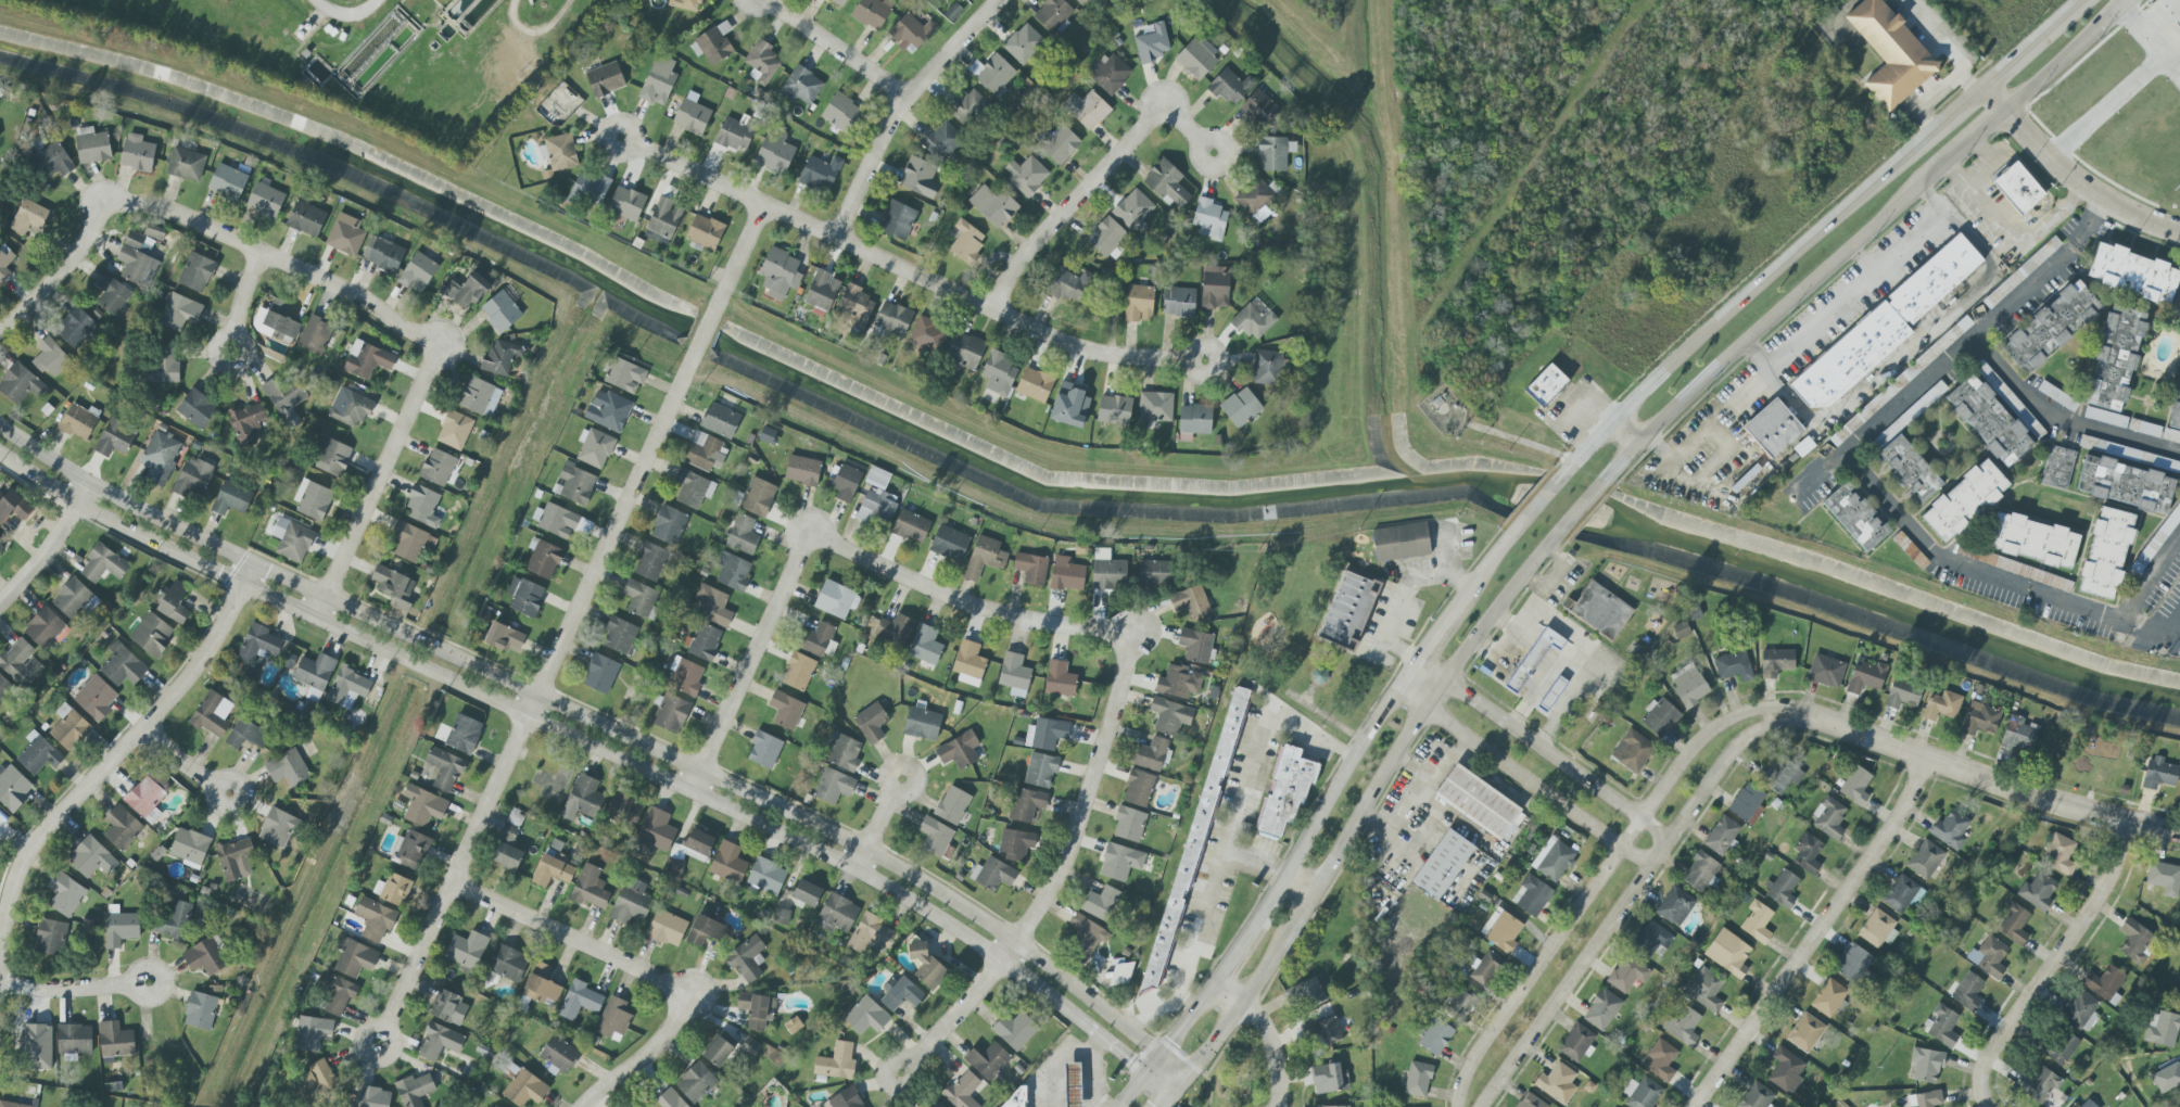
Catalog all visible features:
building: (963, 0)
building: (1079, 1)
building: (838, 2)
building: (685, 4)
building: (872, 12)
building: (1052, 14)
road: (2159, 16)
road: (1839, 21)
building: (2178, 24)
gas station: (2178, 24)
road: (353, 27)
building: (912, 31)
road: (1943, 42)
building: (714, 43)
building: (1023, 43)
building: (1153, 43)
road: (840, 48)
building: (1890, 52)
road: (2069, 55)
building: (1197, 58)
building: (762, 63)
road: (2004, 64)
road: (2169, 65)
road: (2176, 65)
building: (992, 73)
building: (1110, 73)
building: (605, 79)
building: (659, 81)
road: (2126, 85)
building: (801, 86)
building: (1230, 87)
road: (1997, 96)
road: (907, 107)
building: (968, 107)
building: (1258, 109)
building: (1087, 110)
building: (841, 113)
building: (692, 114)
building: (736, 133)
road: (1976, 135)
building: (942, 141)
building: (1060, 144)
building: (92, 147)
building: (559, 152)
building: (774, 152)
building: (137, 153)
building: (1272, 154)
building: (52, 161)
building: (186, 164)
building: (820, 173)
road: (1977, 173)
building: (1026, 175)
building: (920, 177)
building: (228, 182)
building: (1166, 183)
road: (2084, 183)
building: (590, 188)
road: (1099, 189)
building: (2018, 190)
building: (1254, 196)
building: (265, 201)
building: (626, 203)
building: (993, 205)
building: (1133, 211)
building: (28, 217)
building: (664, 218)
building: (306, 219)
building: (1209, 219)
building: (898, 220)
building: (705, 231)
building: (345, 234)
building: (1105, 237)
road: (2025, 240)
building: (966, 242)
road: (745, 252)
building: (382, 254)
building: (136, 260)
road: (1861, 260)
building: (4, 262)
road: (69, 263)
road: (294, 264)
road: (911, 268)
building: (197, 272)
building: (418, 272)
building: (780, 272)
building: (2021, 272)
building: (2133, 273)
building: (1072, 285)
building: (1215, 288)
building: (466, 290)
road: (1855, 290)
building: (822, 291)
building: (112, 294)
building: (1178, 302)
building: (1139, 303)
building: (855, 304)
road: (244, 308)
building: (180, 311)
building: (500, 311)
building: (892, 318)
building: (1252, 321)
building: (276, 326)
road: (707, 326)
building: (75, 327)
building: (1884, 327)
building: (2051, 327)
building: (928, 334)
building: (315, 335)
road: (1689, 346)
road: (1909, 347)
building: (965, 351)
road: (1997, 355)
building: (50, 357)
building: (500, 357)
building: (2116, 358)
building: (367, 359)
building: (163, 365)
building: (1267, 368)
building: (999, 372)
building: (624, 376)
building: (1904, 378)
building: (20, 384)
building: (1035, 384)
building: (1546, 385)
building: (284, 395)
building: (2057, 396)
building: (479, 397)
building: (2010, 400)
road: (1678, 403)
building: (1070, 405)
building: (1155, 406)
building: (1240, 407)
building: (351, 408)
building: (197, 409)
building: (608, 410)
building: (1114, 410)
building: (2176, 411)
building: (2105, 417)
building: (1194, 419)
building: (720, 420)
building: (1989, 420)
building: (78, 422)
building: (248, 422)
building: (1773, 428)
building: (2149, 429)
building: (455, 430)
road: (1624, 432)
building: (768, 435)
building: (115, 437)
building: (2170, 437)
building: (594, 448)
building: (705, 453)
building: (1909, 453)
building: (332, 457)
building: (160, 458)
building: (439, 467)
building: (2057, 467)
building: (802, 470)
building: (192, 478)
building: (877, 478)
road: (382, 481)
building: (846, 483)
building: (574, 484)
building: (2125, 484)
building: (758, 497)
building: (231, 498)
building: (313, 499)
building: (1964, 500)
building: (422, 506)
building: (876, 508)
building: (1855, 518)
building: (557, 521)
building: (669, 525)
building: (911, 526)
road: (1917, 532)
building: (743, 535)
building: (292, 539)
building: (2033, 540)
building: (410, 542)
building: (1400, 542)
road: (49, 544)
building: (949, 544)
building: (1, 548)
building: (1910, 550)
building: (2106, 552)
building: (984, 557)
building: (544, 560)
building: (650, 562)
building: (103, 563)
building: (1030, 568)
building: (1107, 571)
building: (2023, 571)
building: (733, 572)
building: (1154, 573)
building: (1066, 574)
road: (2150, 575)
building: (394, 587)
road: (971, 595)
road: (1403, 595)
building: (524, 596)
building: (72, 597)
building: (836, 599)
building: (641, 600)
building: (174, 602)
building: (1190, 602)
building: (711, 606)
building: (1600, 610)
building: (1347, 611)
road: (2170, 615)
road: (1437, 627)
building: (46, 628)
building: (893, 629)
building: (1681, 629)
building: (151, 634)
building: (620, 635)
building: (504, 637)
building: (817, 640)
building: (705, 641)
building: (257, 642)
building: (925, 645)
building: (1195, 646)
building: (1534, 659)
road: (752, 661)
building: (20, 662)
building: (1776, 662)
building: (968, 663)
building: (123, 665)
building: (1734, 666)
building: (798, 671)
building: (1825, 671)
building: (600, 673)
building: (315, 674)
building: (1014, 674)
road: (1425, 675)
building: (1318, 676)
building: (686, 677)
building: (1865, 677)
building: (1060, 678)
road: (545, 682)
building: (1178, 682)
building: (4, 687)
building: (1689, 687)
road: (1416, 689)
road: (1434, 692)
building: (1551, 694)
building: (1902, 694)
building: (96, 698)
road: (1478, 701)
building: (1941, 705)
building: (785, 710)
building: (671, 713)
building: (210, 715)
building: (1169, 716)
building: (1660, 717)
building: (1980, 718)
road: (591, 722)
building: (871, 722)
building: (922, 724)
road: (1712, 727)
building: (69, 728)
building: (464, 734)
building: (1045, 734)
building: (246, 735)
building: (2018, 735)
road: (584, 743)
building: (764, 750)
building: (842, 751)
building: (958, 751)
building: (1632, 751)
building: (38, 754)
building: (1152, 754)
road: (1728, 754)
road: (197, 768)
building: (287, 768)
building: (444, 768)
road: (112, 769)
building: (1040, 769)
road: (1576, 773)
building: (2159, 773)
building: (1782, 775)
road: (1523, 777)
building: (159, 780)
road: (1999, 782)
building: (834, 786)
building: (1855, 786)
building: (13, 787)
road: (1417, 787)
building: (1138, 788)
building: (1285, 791)
building: (2179, 796)
road: (1329, 798)
building: (145, 799)
building: (582, 799)
road: (1368, 799)
building: (1478, 802)
building: (1747, 802)
building: (1027, 804)
building: (952, 805)
building: (423, 806)
building: (621, 809)
building: (1829, 817)
building: (1129, 824)
road: (879, 826)
building: (122, 828)
building: (277, 828)
building: (656, 829)
road: (1655, 829)
building: (1950, 829)
road: (1230, 835)
building: (1722, 836)
building: (935, 837)
building: (1015, 843)
building: (508, 845)
building: (694, 847)
building: (189, 848)
building: (410, 850)
building: (1807, 853)
building: (2061, 854)
building: (88, 856)
road: (1636, 857)
building: (235, 858)
building: (1925, 858)
building: (1552, 860)
building: (727, 862)
building: (1120, 862)
building: (1443, 863)
building: (552, 869)
road: (1271, 870)
building: (1700, 871)
road: (1059, 874)
building: (992, 875)
building: (766, 876)
building: (2164, 878)
building: (590, 888)
building: (395, 889)
building: (1782, 889)
building: (2038, 891)
building: (807, 893)
building: (1900, 894)
building: (65, 895)
building: (1531, 895)
building: (631, 902)
building: (1101, 903)
building: (1675, 906)
building: (836, 914)
building: (781, 916)
road: (1298, 917)
building: (375, 919)
building: (176, 921)
building: (1757, 922)
building: (2014, 924)
building: (119, 927)
building: (667, 928)
building: (1878, 928)
building: (707, 930)
building: (1501, 930)
building: (871, 933)
road: (1814, 934)
building: (1085, 937)
building: (50, 938)
building: (1652, 938)
building: (2134, 941)
road: (601, 949)
building: (466, 950)
building: (1728, 953)
road: (1233, 954)
building: (206, 956)
building: (1989, 957)
building: (355, 958)
building: (746, 959)
road: (1542, 960)
building: (1853, 964)
building: (926, 965)
road: (2051, 965)
building: (1485, 968)
road: (1574, 972)
building: (1120, 974)
building: (1627, 974)
building: (2104, 983)
building: (541, 984)
road: (86, 987)
building: (2178, 988)
building: (1704, 990)
building: (1968, 990)
building: (900, 993)
building: (338, 994)
building: (1305, 994)
building: (1828, 997)
building: (579, 1000)
building: (1457, 1005)
building: (449, 1008)
building: (757, 1009)
building: (1601, 1009)
building: (200, 1010)
building: (2080, 1010)
building: (866, 1016)
road: (1233, 1016)
building: (613, 1019)
road: (1187, 1019)
building: (793, 1025)
building: (1683, 1027)
building: (1942, 1027)
building: (2162, 1029)
building: (1015, 1030)
building: (1322, 1030)
road: (1268, 1032)
building: (1805, 1032)
building: (312, 1033)
building: (1435, 1036)
building: (74, 1039)
building: (115, 1040)
traffic signals: (1171, 1041)
building: (440, 1042)
building: (1577, 1042)
building: (37, 1046)
building: (749, 1047)
building: (2061, 1047)
building: (718, 1052)
building: (559, 1054)
building: (988, 1060)
traffic signals: (1131, 1060)
building: (1661, 1060)
building: (836, 1063)
road: (1153, 1064)
building: (1926, 1065)
building: (1785, 1069)
road: (620, 1070)
road: (1169, 1071)
road: (1092, 1072)
building: (2168, 1073)
building: (1329, 1078)
building: (1418, 1079)
building: (317, 1080)
road: (1162, 1080)
building: (696, 1082)
building: (1557, 1083)
building: (2042, 1084)
building: (1070, 1085)
gas station: (1070, 1085)
building: (524, 1089)
building: (414, 1090)
road: (1131, 1090)
building: (962, 1091)
building: (1640, 1093)
building: (1756, 1096)
building: (372, 1097)
road: (1169, 1097)
building: (670, 1099)
building: (846, 1099)
building: (1925, 1099)
road: (1091, 1100)
building: (1530, 1102)
building: (13, 1105)
building: (2074, 1105)
building: (1332, 1106)

